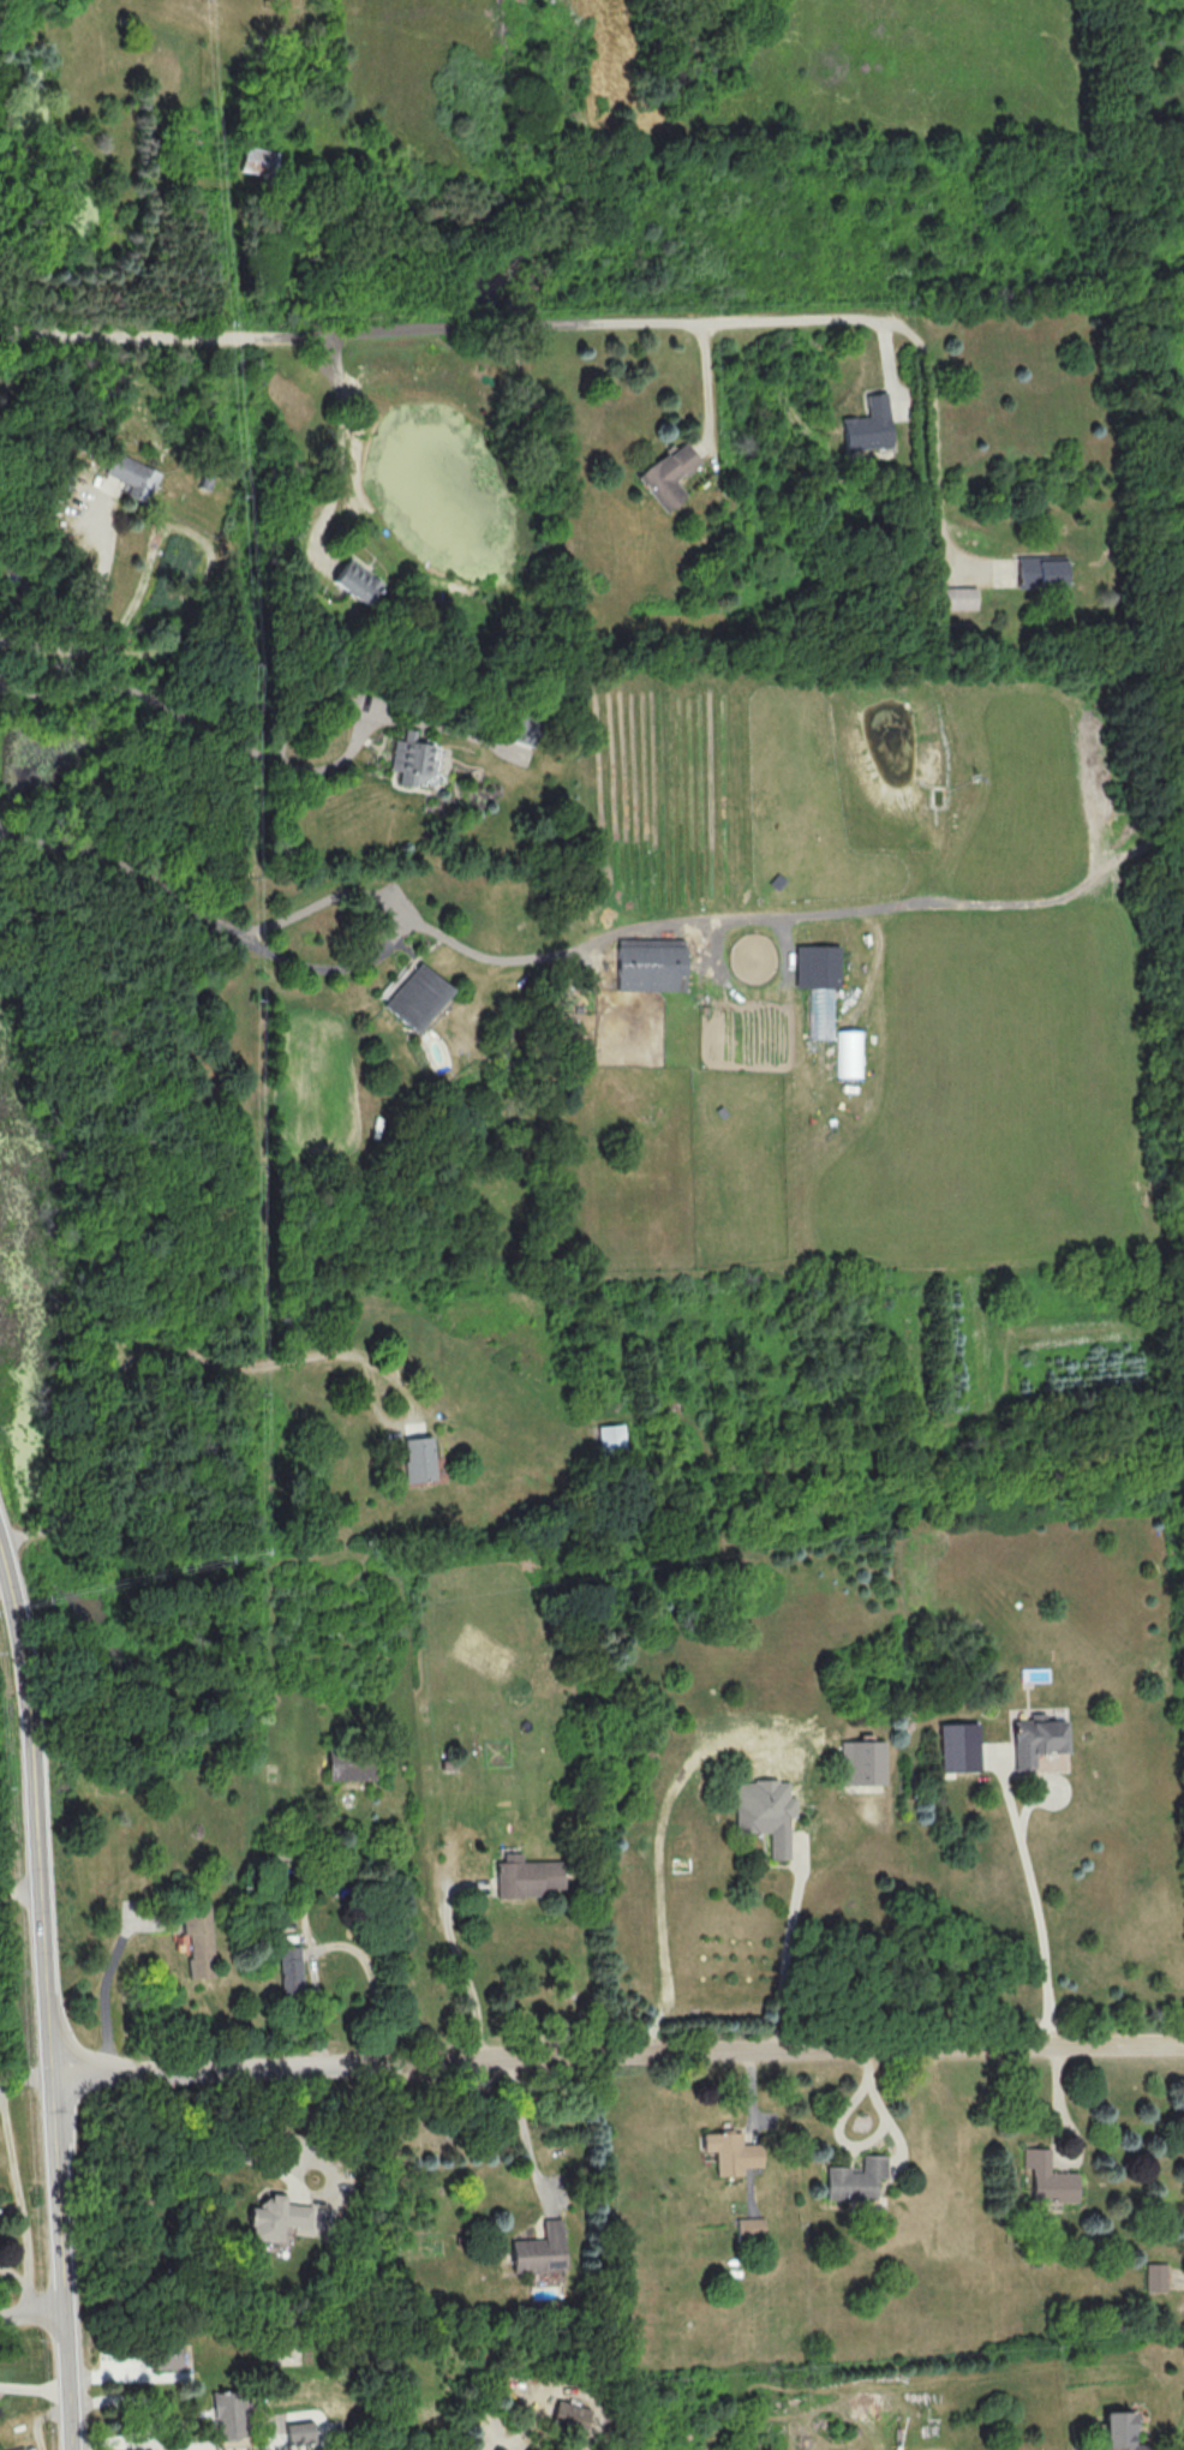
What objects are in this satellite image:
building: (259, 160)
road: (568, 327)
building: (868, 425)
road: (342, 449)
building: (133, 474)
building: (669, 474)
building: (1042, 570)
building: (357, 581)
building: (959, 597)
road: (88, 620)
building: (412, 759)
road: (122, 865)
road: (394, 928)
road: (623, 928)
building: (652, 963)
building: (819, 985)
building: (417, 996)
building: (850, 1053)
road: (127, 1362)
road: (406, 1424)
building: (614, 1436)
building: (419, 1458)
road: (1, 1561)
road: (2, 1580)
building: (1036, 1738)
building: (958, 1746)
building: (862, 1762)
building: (351, 1764)
building: (766, 1811)
road: (659, 1854)
building: (527, 1876)
road: (18, 1893)
road: (1039, 1908)
building: (198, 1941)
road: (790, 1947)
building: (289, 1970)
road: (462, 1973)
road: (106, 1977)
road: (43, 2000)
road: (830, 2050)
road: (262, 2069)
road: (751, 2095)
road: (760, 2119)
road: (219, 2135)
road: (527, 2138)
road: (843, 2139)
road: (898, 2140)
road: (1053, 2144)
building: (730, 2151)
road: (18, 2174)
building: (855, 2179)
building: (1048, 2179)
road: (552, 2185)
building: (275, 2217)
building: (751, 2227)
building: (542, 2248)
building: (1156, 2277)
road: (30, 2312)
building: (168, 2354)
road: (114, 2359)
road: (126, 2374)
road: (31, 2386)
road: (132, 2397)
building: (229, 2414)
building: (569, 2416)
road: (319, 2419)
building: (1119, 2430)
building: (299, 2432)
road: (119, 2443)
building: (17, 2449)
road: (263, 2449)

